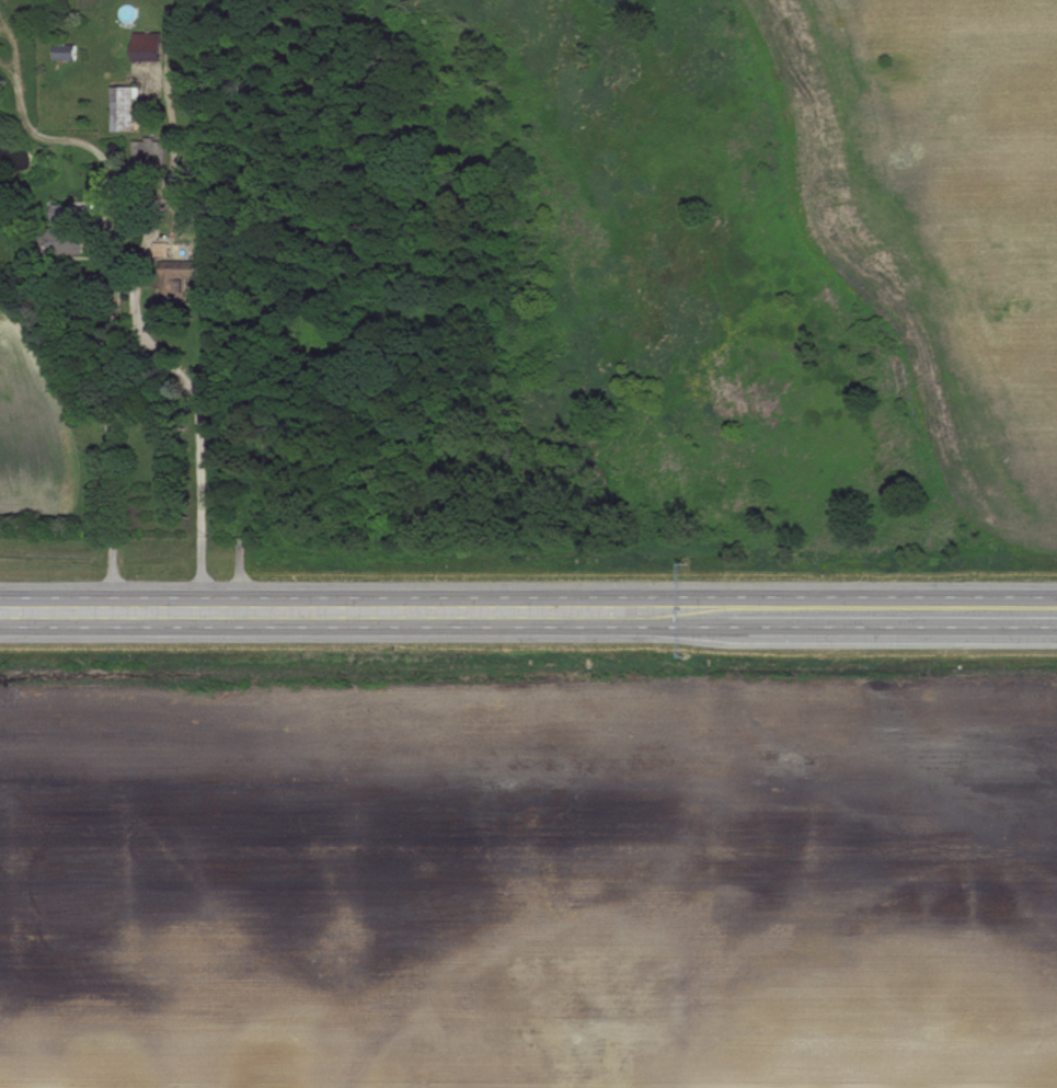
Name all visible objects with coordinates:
building: (145, 46)
building: (61, 53)
building: (122, 108)
building: (64, 233)
building: (182, 273)
road: (216, 414)
road: (528, 612)

